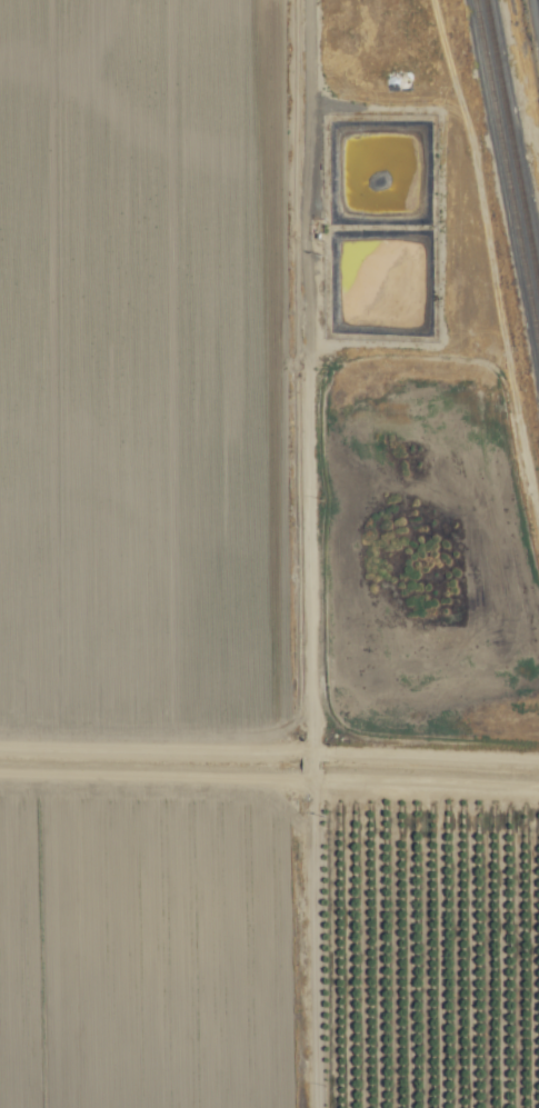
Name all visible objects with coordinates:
road: (538, 2)
railway: (511, 149)
railway: (506, 178)

